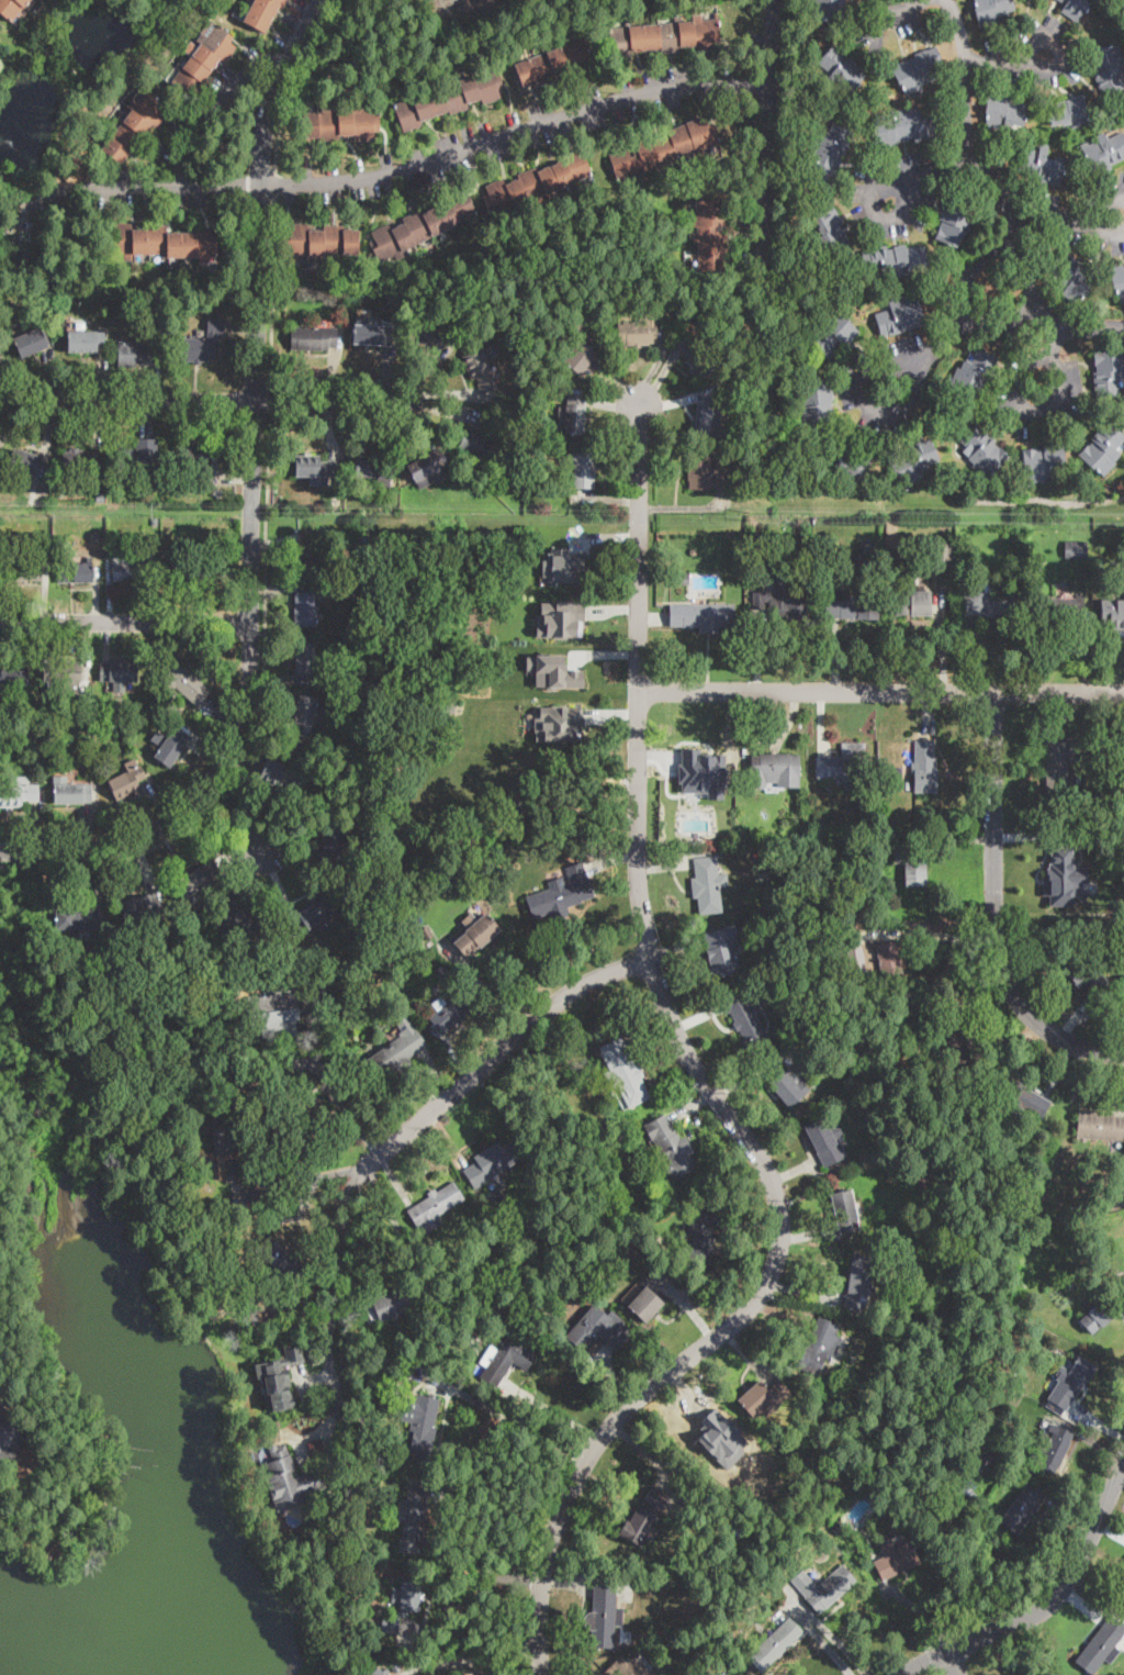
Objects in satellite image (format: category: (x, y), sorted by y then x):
building: (1045, 0)
building: (1060, 0)
building: (11, 8)
building: (1075, 9)
building: (831, 10)
road: (895, 11)
building: (992, 11)
building: (262, 13)
building: (665, 36)
road: (1007, 58)
building: (204, 60)
building: (555, 64)
building: (843, 68)
building: (1108, 68)
building: (918, 69)
road: (299, 82)
building: (451, 98)
road: (214, 100)
building: (1003, 111)
building: (1070, 112)
road: (768, 116)
building: (341, 123)
building: (136, 126)
building: (906, 127)
road: (968, 129)
building: (663, 149)
building: (1103, 153)
road: (427, 155)
building: (830, 155)
building: (1042, 166)
road: (919, 174)
building: (537, 183)
road: (274, 185)
road: (1069, 215)
building: (954, 223)
building: (421, 225)
building: (830, 233)
building: (710, 236)
building: (161, 241)
building: (321, 241)
road: (1016, 249)
building: (26, 257)
building: (895, 260)
road: (969, 268)
road: (1027, 276)
building: (1071, 276)
building: (1117, 279)
road: (272, 292)
building: (900, 315)
road: (1007, 321)
building: (577, 322)
road: (1070, 328)
building: (639, 331)
building: (371, 333)
building: (832, 334)
building: (426, 335)
road: (947, 335)
building: (314, 338)
building: (85, 340)
building: (31, 343)
building: (203, 344)
road: (1055, 345)
building: (135, 354)
building: (577, 354)
building: (698, 361)
building: (481, 367)
building: (1109, 372)
building: (975, 373)
road: (271, 399)
road: (231, 401)
building: (816, 404)
road: (1049, 404)
building: (573, 416)
building: (710, 417)
building: (484, 440)
building: (1103, 449)
building: (983, 451)
building: (138, 454)
building: (198, 455)
building: (79, 460)
building: (24, 461)
building: (914, 461)
building: (1044, 461)
building: (845, 462)
building: (427, 465)
building: (310, 468)
building: (373, 468)
building: (582, 468)
building: (705, 471)
building: (92, 480)
building: (100, 496)
road: (251, 504)
power tower: (398, 512)
power tower: (745, 514)
building: (155, 520)
building: (95, 537)
building: (762, 538)
building: (1076, 549)
building: (945, 550)
building: (895, 552)
building: (866, 555)
building: (760, 556)
building: (308, 560)
building: (1013, 561)
building: (563, 567)
building: (134, 568)
building: (196, 568)
building: (23, 570)
building: (76, 571)
building: (684, 579)
building: (350, 595)
building: (468, 598)
building: (989, 603)
building: (779, 604)
building: (913, 604)
building: (850, 605)
building: (305, 608)
building: (1060, 608)
road: (263, 610)
building: (1112, 613)
building: (702, 616)
building: (559, 617)
road: (420, 622)
road: (124, 623)
building: (362, 656)
building: (305, 660)
building: (553, 671)
building: (119, 672)
building: (61, 677)
building: (13, 679)
building: (447, 680)
building: (184, 683)
road: (880, 692)
park: (450, 693)
building: (304, 711)
building: (355, 712)
building: (68, 713)
building: (33, 717)
building: (557, 722)
building: (124, 726)
building: (41, 740)
building: (172, 747)
building: (844, 764)
building: (923, 767)
building: (1057, 767)
building: (775, 770)
building: (701, 771)
building: (280, 774)
building: (127, 780)
building: (71, 791)
building: (18, 793)
building: (1123, 795)
road: (396, 801)
road: (212, 806)
road: (233, 823)
building: (564, 835)
building: (775, 837)
building: (334, 845)
building: (1100, 846)
building: (757, 857)
building: (442, 860)
building: (912, 860)
road: (109, 862)
building: (1064, 867)
building: (764, 875)
building: (198, 881)
building: (707, 884)
building: (561, 894)
building: (142, 906)
building: (475, 906)
building: (855, 907)
building: (313, 914)
road: (996, 914)
building: (77, 919)
building: (284, 919)
park: (22, 920)
building: (246, 920)
building: (475, 933)
building: (784, 934)
road: (928, 934)
building: (366, 941)
building: (722, 949)
building: (202, 951)
building: (301, 953)
building: (350, 954)
building: (55, 960)
building: (162, 962)
building: (890, 963)
building: (1089, 975)
building: (342, 976)
building: (315, 983)
building: (853, 990)
building: (449, 1012)
building: (274, 1013)
building: (746, 1020)
building: (957, 1043)
building: (397, 1049)
road: (493, 1060)
building: (139, 1062)
building: (623, 1073)
building: (790, 1084)
road: (709, 1087)
road: (338, 1096)
building: (1022, 1098)
building: (1101, 1126)
building: (227, 1134)
building: (825, 1141)
building: (671, 1147)
building: (491, 1163)
building: (237, 1170)
building: (436, 1207)
building: (844, 1211)
building: (1119, 1220)
building: (701, 1235)
building: (280, 1257)
building: (1092, 1265)
building: (857, 1282)
building: (424, 1294)
building: (649, 1295)
road: (334, 1300)
building: (392, 1304)
building: (1099, 1311)
building: (600, 1328)
building: (819, 1345)
building: (1048, 1348)
building: (507, 1360)
building: (280, 1376)
building: (1070, 1382)
building: (763, 1396)
road: (555, 1411)
park: (112, 1412)
road: (40, 1416)
building: (421, 1422)
road: (516, 1426)
building: (708, 1429)
building: (358, 1437)
building: (9, 1438)
building: (970, 1441)
building: (1054, 1449)
building: (986, 1459)
building: (290, 1479)
building: (971, 1495)
building: (1023, 1507)
building: (644, 1519)
building: (415, 1521)
building: (838, 1528)
building: (896, 1561)
building: (821, 1588)
building: (407, 1597)
building: (1123, 1597)
road: (474, 1599)
road: (1047, 1605)
building: (604, 1616)
road: (812, 1616)
building: (391, 1624)
building: (774, 1644)
building: (1100, 1645)
road: (312, 1657)
road: (470, 1659)
road: (955, 1663)
building: (394, 1667)
building: (627, 1667)
building: (378, 1672)

